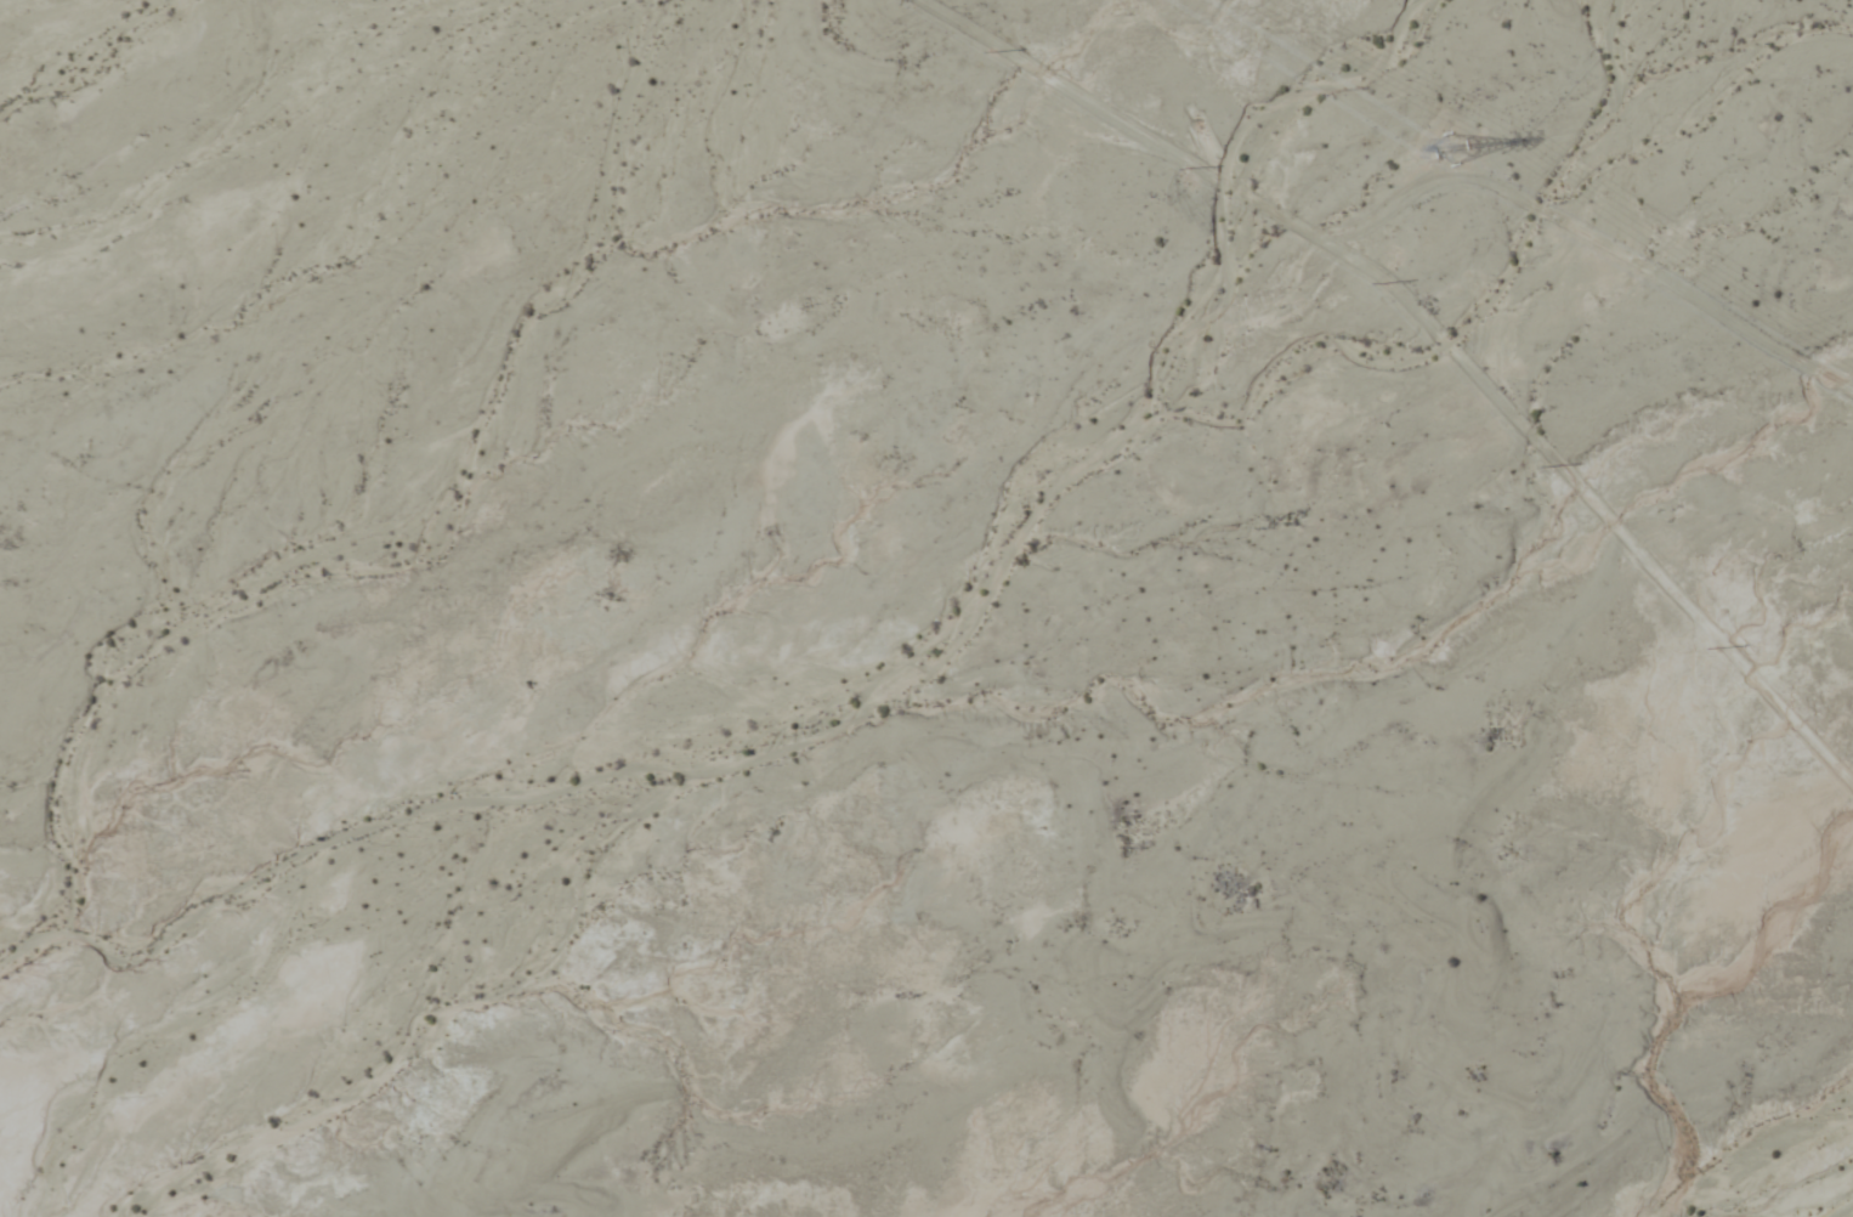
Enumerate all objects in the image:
power tower: (1462, 158)

